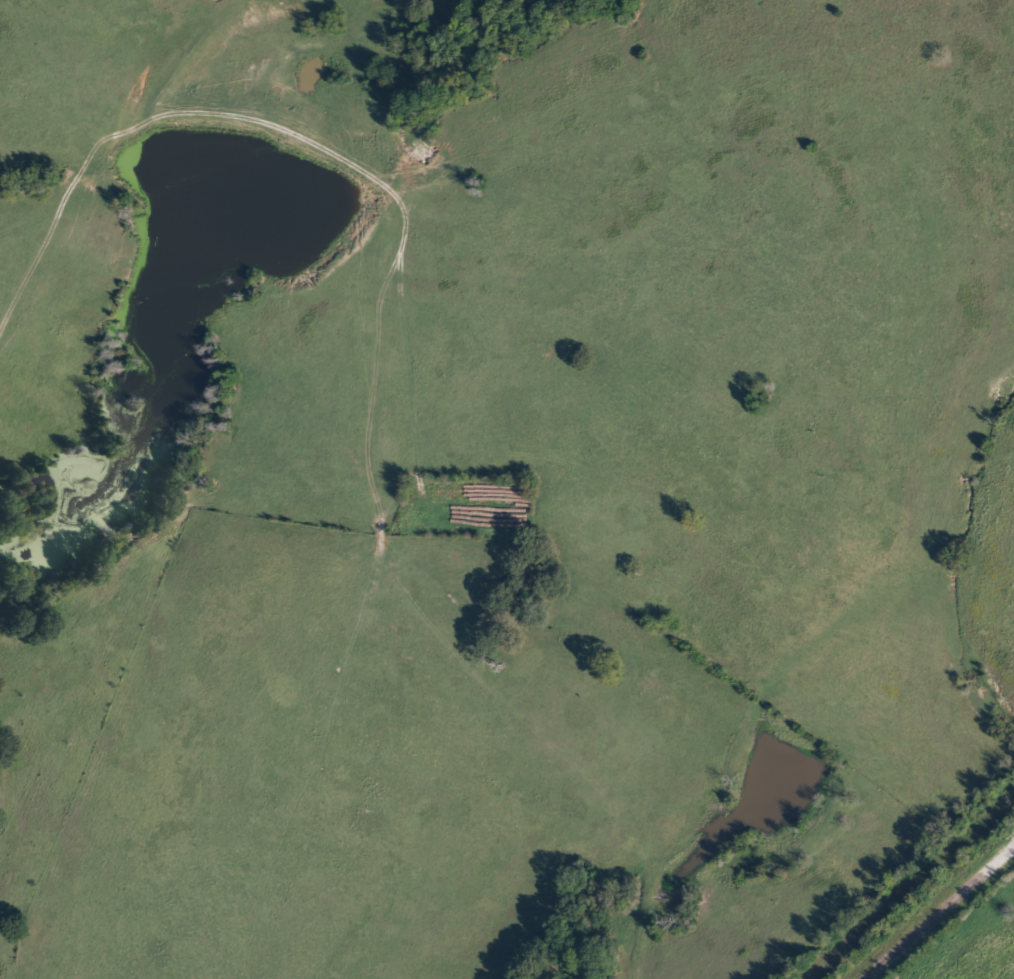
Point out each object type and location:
road: (936, 908)

